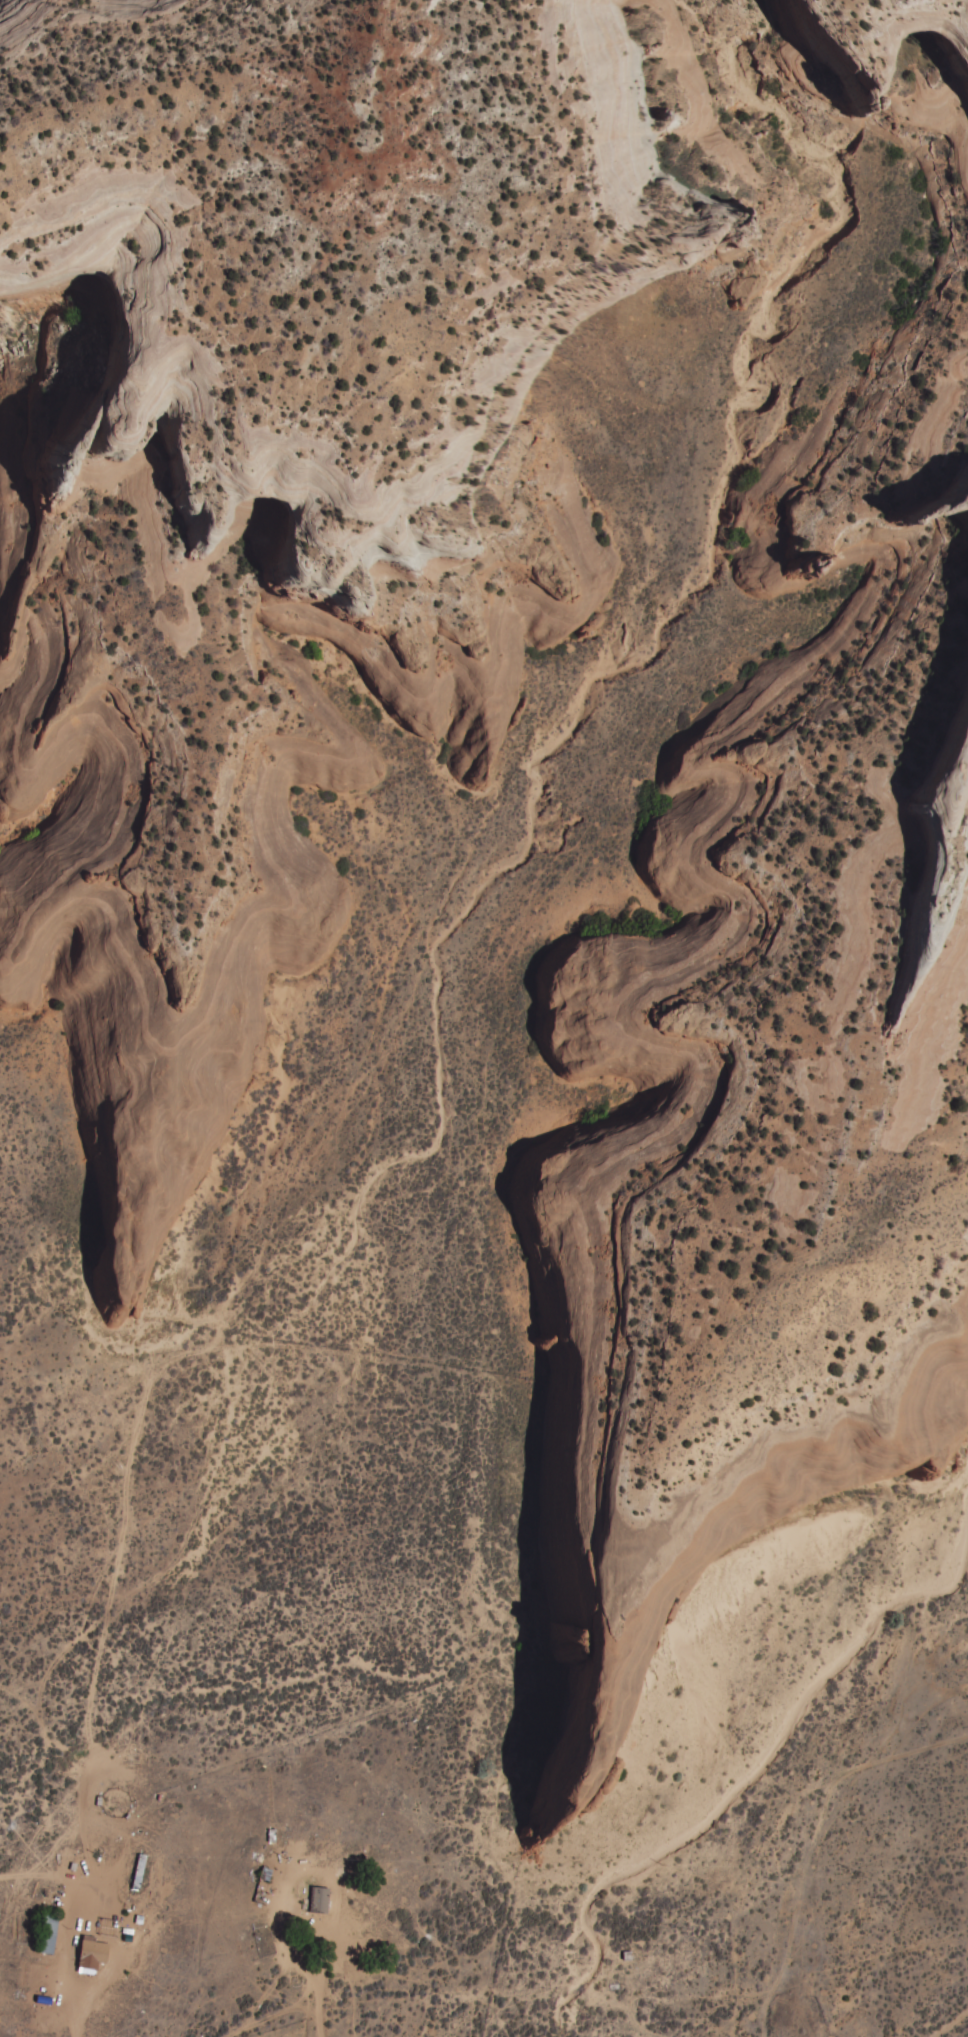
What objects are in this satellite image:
building: (318, 1900)
building: (47, 1934)
building: (93, 1955)

